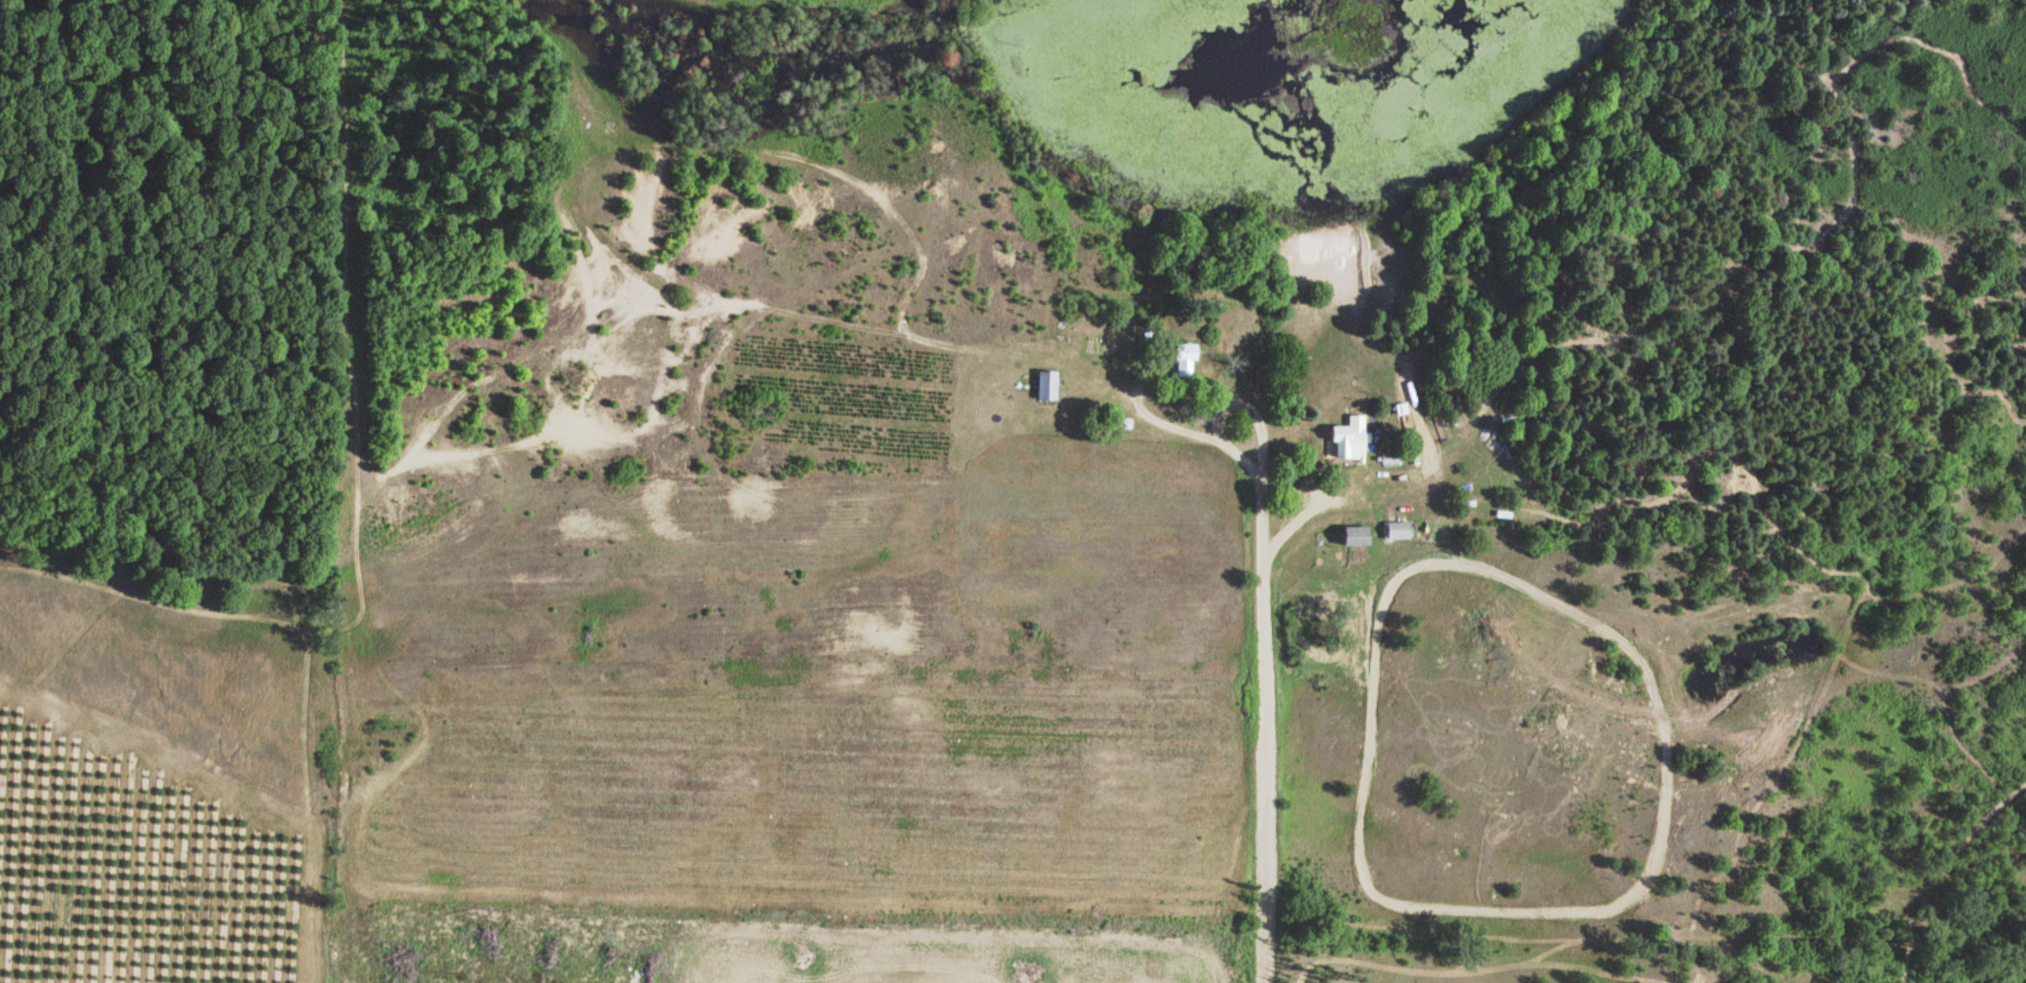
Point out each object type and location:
building: (1180, 362)
building: (1044, 388)
building: (1342, 444)
building: (1396, 531)
building: (1353, 538)
road: (1253, 689)

